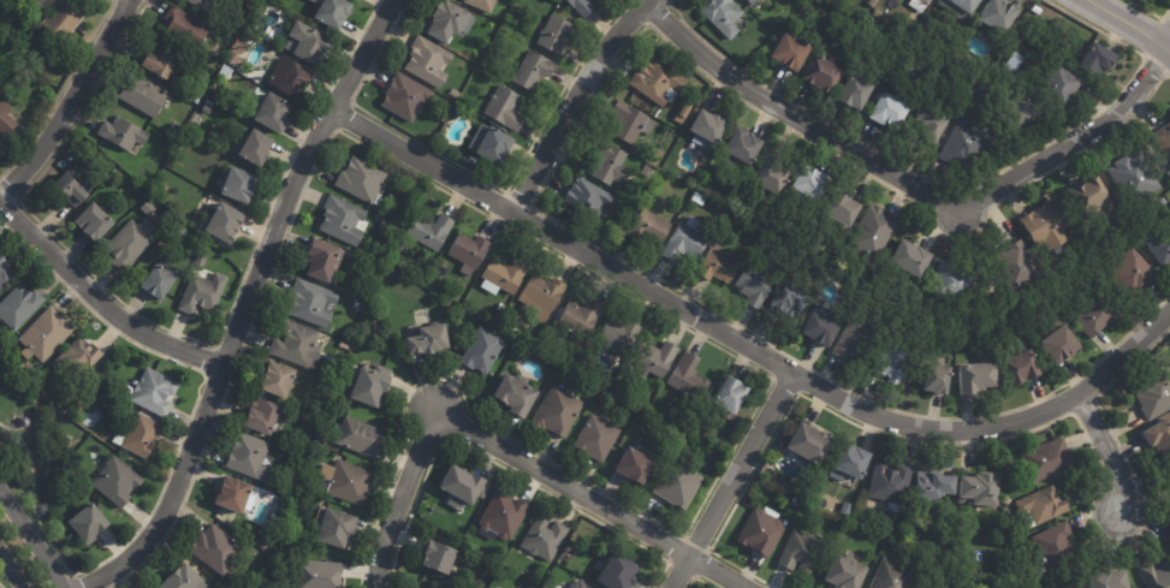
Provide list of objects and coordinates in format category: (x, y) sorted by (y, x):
building: (865, 0)
building: (1, 1)
building: (753, 1)
building: (38, 2)
building: (265, 2)
building: (872, 2)
building: (204, 4)
building: (483, 4)
building: (922, 4)
building: (584, 6)
building: (962, 6)
building: (1038, 11)
building: (333, 12)
building: (879, 14)
building: (999, 14)
building: (726, 16)
building: (65, 18)
building: (450, 19)
building: (186, 24)
road: (1127, 24)
building: (557, 35)
building: (232, 38)
building: (245, 38)
building: (309, 42)
building: (791, 52)
building: (234, 58)
building: (1101, 59)
building: (161, 60)
building: (1016, 61)
building: (432, 63)
building: (535, 71)
building: (824, 72)
building: (291, 77)
building: (233, 78)
building: (659, 81)
building: (1064, 85)
building: (857, 93)
building: (456, 94)
building: (145, 96)
building: (408, 96)
building: (197, 97)
road: (71, 100)
road: (575, 101)
building: (209, 108)
building: (507, 108)
building: (892, 108)
building: (1026, 111)
building: (275, 112)
building: (444, 115)
building: (6, 120)
building: (683, 120)
road: (798, 121)
building: (630, 123)
building: (932, 123)
building: (177, 129)
building: (707, 129)
building: (124, 133)
road: (1086, 138)
building: (1164, 138)
building: (493, 144)
building: (743, 145)
building: (967, 145)
building: (182, 147)
building: (256, 148)
building: (474, 161)
building: (610, 162)
building: (649, 171)
building: (772, 174)
building: (1135, 177)
building: (363, 179)
building: (814, 183)
building: (240, 184)
building: (646, 188)
building: (72, 189)
building: (161, 190)
building: (1094, 196)
building: (592, 198)
building: (700, 200)
building: (1166, 201)
building: (149, 208)
building: (845, 208)
building: (343, 220)
building: (96, 222)
building: (226, 222)
building: (1046, 225)
building: (652, 227)
building: (180, 230)
building: (877, 230)
building: (432, 231)
building: (685, 242)
building: (131, 243)
building: (1160, 244)
building: (470, 251)
building: (913, 257)
building: (202, 259)
building: (325, 260)
building: (719, 265)
building: (1021, 265)
building: (1136, 271)
building: (5, 273)
building: (506, 275)
building: (161, 280)
building: (956, 281)
building: (755, 285)
building: (204, 293)
building: (542, 296)
building: (791, 299)
building: (463, 301)
road: (99, 302)
road: (245, 303)
building: (313, 303)
building: (451, 304)
building: (20, 305)
building: (361, 305)
building: (503, 308)
building: (1095, 315)
building: (583, 316)
building: (519, 322)
building: (822, 326)
building: (1023, 329)
building: (533, 333)
building: (47, 334)
building: (859, 334)
building: (619, 335)
building: (429, 340)
building: (1062, 344)
building: (299, 345)
building: (345, 345)
road: (744, 350)
building: (482, 351)
building: (660, 360)
building: (78, 362)
building: (893, 363)
building: (1026, 367)
building: (28, 373)
building: (102, 373)
building: (976, 378)
building: (278, 379)
building: (689, 379)
building: (939, 379)
building: (327, 384)
building: (372, 385)
building: (156, 392)
building: (518, 393)
building: (732, 394)
building: (1154, 397)
building: (323, 409)
building: (559, 411)
building: (263, 416)
building: (141, 435)
building: (1160, 436)
building: (362, 438)
road: (479, 438)
building: (598, 438)
building: (810, 444)
building: (308, 446)
building: (251, 457)
building: (303, 458)
building: (1046, 462)
road: (1111, 463)
building: (856, 464)
building: (639, 467)
building: (118, 481)
building: (351, 482)
building: (681, 482)
road: (731, 483)
building: (892, 483)
building: (937, 485)
building: (463, 486)
building: (982, 491)
building: (798, 492)
building: (234, 494)
building: (1044, 506)
building: (848, 509)
building: (226, 515)
building: (505, 515)
building: (90, 524)
building: (338, 529)
building: (764, 530)
road: (32, 537)
building: (546, 539)
building: (268, 541)
building: (1058, 546)
building: (218, 550)
building: (802, 552)
building: (438, 558)
road: (11, 570)
road: (723, 571)
building: (619, 572)
building: (845, 572)
building: (320, 575)
building: (893, 576)
building: (1156, 576)
building: (183, 578)
building: (1112, 581)
building: (582, 584)
building: (443, 587)
building: (919, 587)
building: (974, 587)

